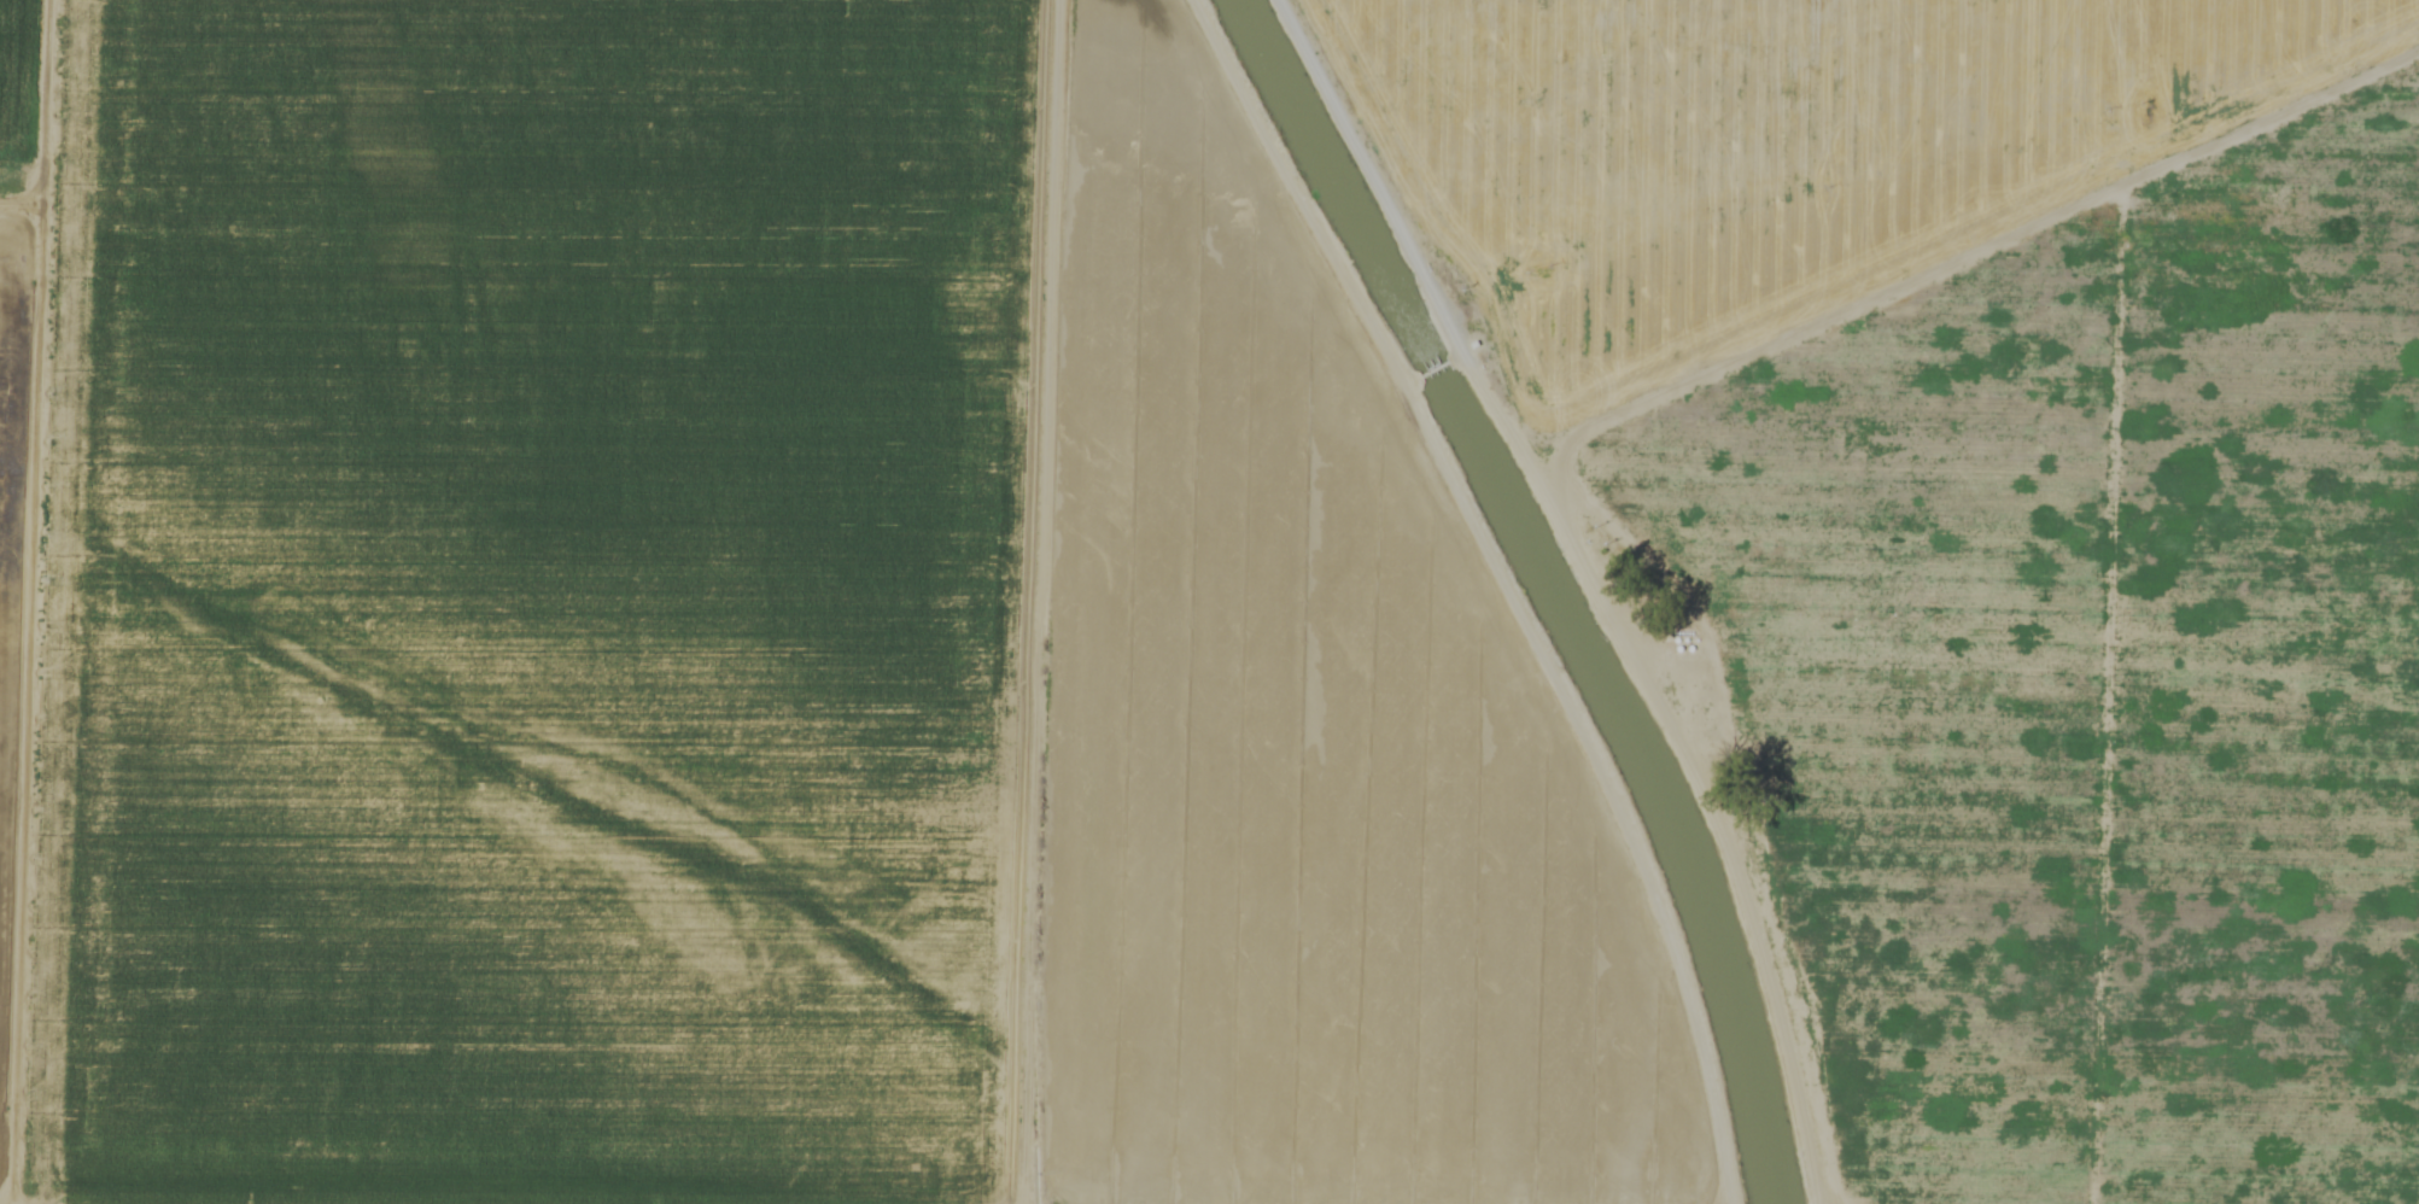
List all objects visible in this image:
road: (2128, 69)
road: (1594, 584)
crop: (1153, 636)

